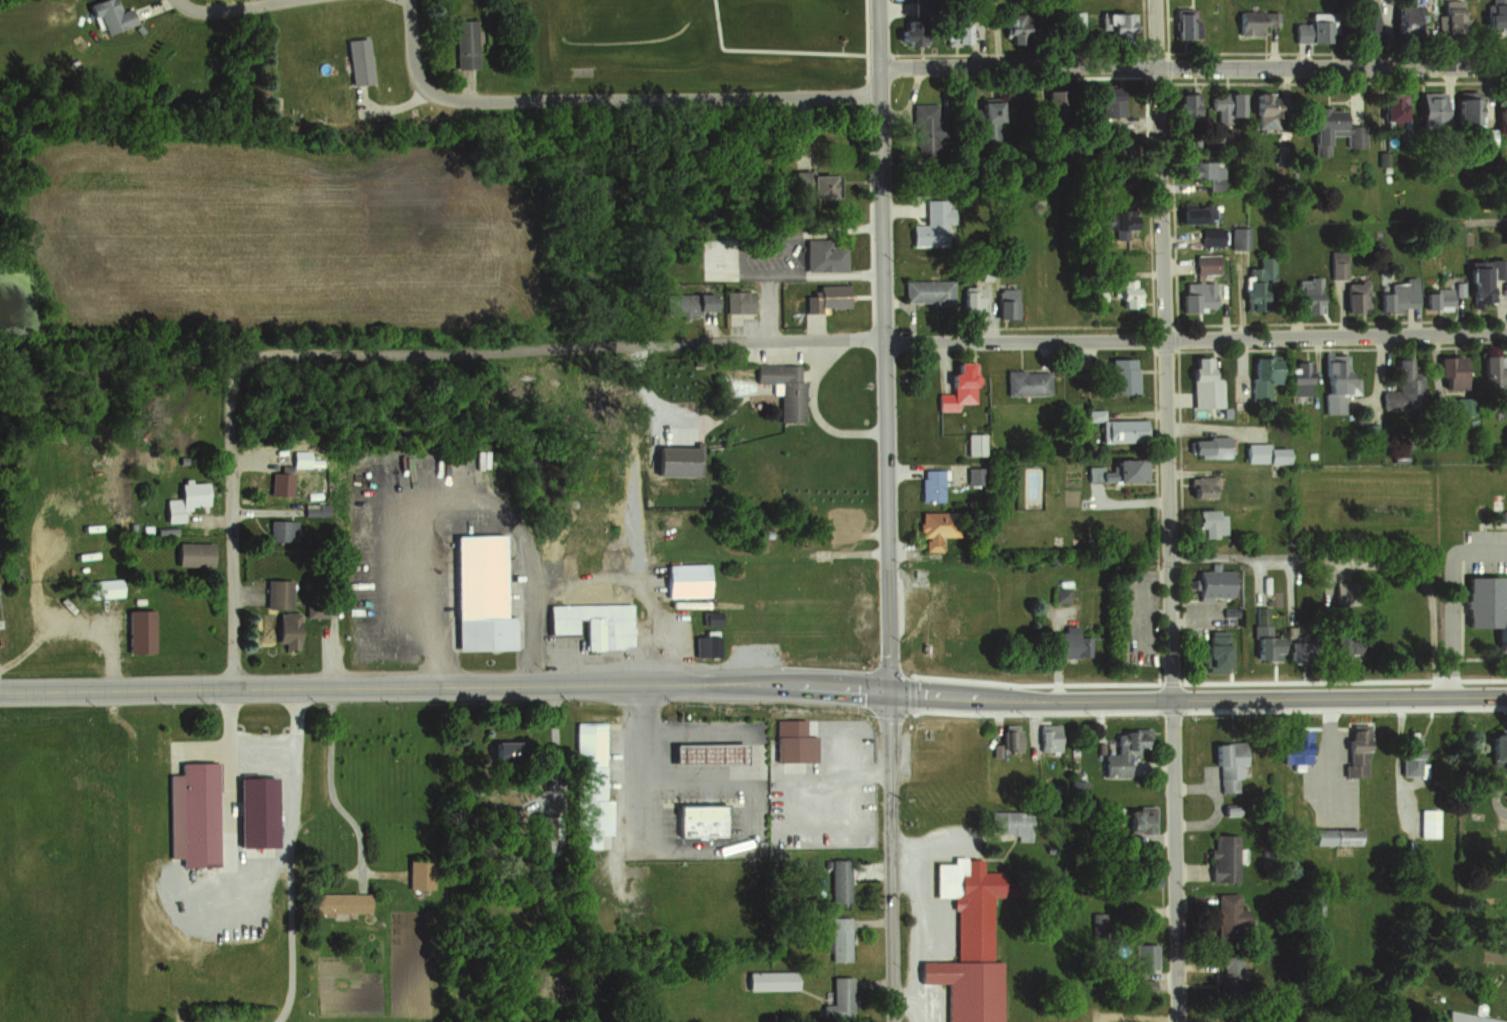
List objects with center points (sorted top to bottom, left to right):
road: (151, 4)
road: (232, 11)
building: (106, 13)
building: (1449, 17)
building: (1492, 17)
building: (1402, 19)
building: (1074, 21)
building: (1249, 22)
road: (408, 26)
building: (1114, 26)
building: (1363, 27)
building: (136, 28)
building: (1007, 28)
building: (1178, 29)
road: (1154, 31)
building: (1305, 31)
road: (877, 33)
building: (958, 33)
building: (906, 36)
building: (80, 40)
building: (462, 41)
road: (767, 51)
building: (355, 59)
road: (1192, 63)
road: (467, 87)
road: (629, 98)
building: (1104, 101)
building: (1049, 104)
building: (1181, 104)
road: (385, 105)
building: (1221, 105)
building: (1462, 107)
building: (1388, 108)
building: (1424, 108)
building: (1261, 110)
building: (980, 119)
building: (923, 128)
building: (1500, 128)
building: (1328, 130)
building: (1196, 170)
building: (813, 185)
building: (903, 209)
building: (1182, 216)
building: (1109, 224)
building: (1208, 237)
building: (1237, 237)
road: (780, 238)
building: (823, 255)
building: (1204, 264)
road: (794, 270)
building: (1479, 279)
building: (1257, 286)
building: (927, 292)
building: (1120, 294)
building: (1306, 295)
building: (1397, 295)
building: (1194, 297)
building: (824, 299)
building: (1435, 299)
building: (970, 300)
building: (742, 302)
building: (1351, 302)
building: (1006, 303)
building: (699, 305)
road: (1131, 340)
road: (495, 347)
building: (1296, 373)
building: (1448, 373)
building: (1492, 375)
building: (1118, 376)
building: (1260, 377)
road: (884, 382)
building: (1026, 382)
building: (961, 383)
building: (1328, 384)
building: (1200, 385)
building: (785, 388)
building: (1400, 388)
road: (816, 414)
building: (1113, 429)
building: (975, 445)
building: (1204, 448)
building: (1261, 452)
building: (1114, 472)
building: (975, 476)
building: (931, 486)
building: (1199, 487)
building: (190, 500)
building: (1063, 506)
road: (464, 508)
building: (845, 522)
building: (1204, 524)
road: (232, 526)
building: (936, 529)
building: (287, 531)
road: (1169, 542)
building: (198, 555)
road: (1311, 557)
road: (626, 576)
building: (848, 576)
building: (691, 581)
building: (1210, 584)
building: (112, 588)
building: (483, 588)
building: (283, 594)
building: (1059, 595)
road: (1442, 597)
building: (936, 608)
building: (1483, 609)
building: (319, 611)
building: (597, 624)
building: (145, 631)
building: (293, 631)
building: (1259, 638)
building: (1072, 643)
building: (1338, 646)
building: (708, 647)
building: (1210, 653)
road: (444, 683)
traffic signals: (889, 698)
road: (1197, 699)
road: (556, 735)
building: (1049, 737)
building: (1008, 739)
building: (799, 743)
building: (1494, 745)
building: (594, 747)
building: (1292, 748)
building: (1351, 750)
building: (145, 751)
building: (1123, 751)
road: (1330, 752)
building: (514, 754)
building: (705, 754)
gas station: (705, 754)
building: (1403, 754)
road: (1399, 763)
building: (1223, 765)
road: (617, 768)
road: (855, 773)
building: (1077, 788)
building: (256, 810)
building: (1226, 811)
building: (193, 813)
building: (1136, 819)
building: (708, 822)
building: (596, 823)
building: (1424, 823)
building: (1011, 824)
building: (839, 826)
building: (1334, 836)
building: (1506, 839)
road: (731, 847)
building: (1222, 857)
road: (893, 859)
building: (424, 876)
building: (1148, 876)
building: (843, 882)
road: (254, 886)
building: (346, 904)
building: (1311, 904)
building: (1227, 916)
building: (1096, 919)
road: (920, 930)
building: (843, 940)
building: (969, 943)
building: (1143, 956)
building: (1227, 973)
building: (773, 981)
building: (1144, 986)
building: (838, 998)
building: (1463, 1018)

